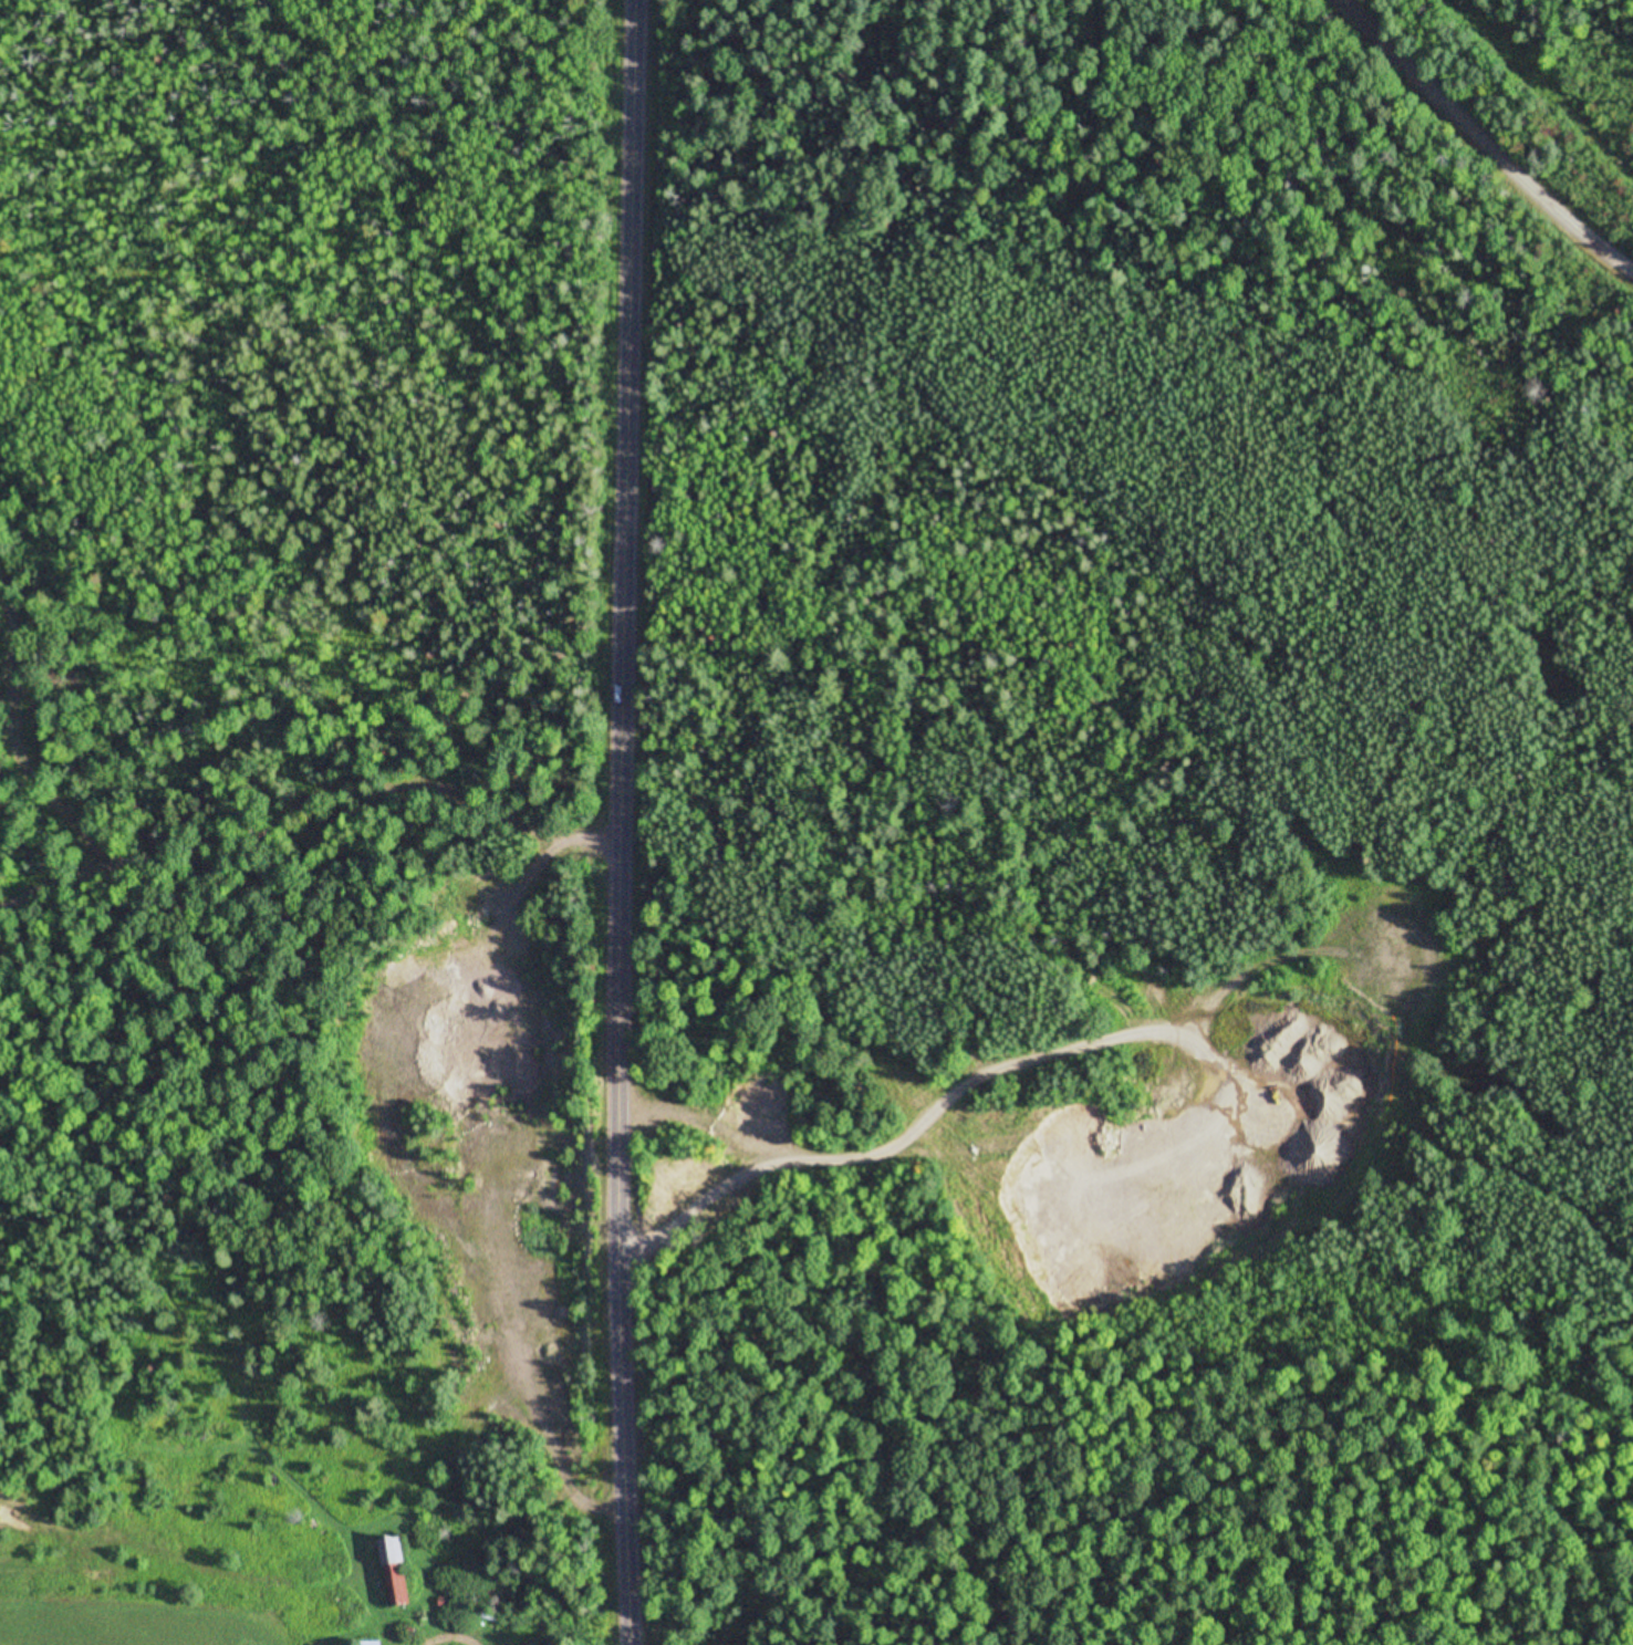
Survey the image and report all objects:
road: (1492, 135)
road: (639, 822)
building: (398, 1573)

